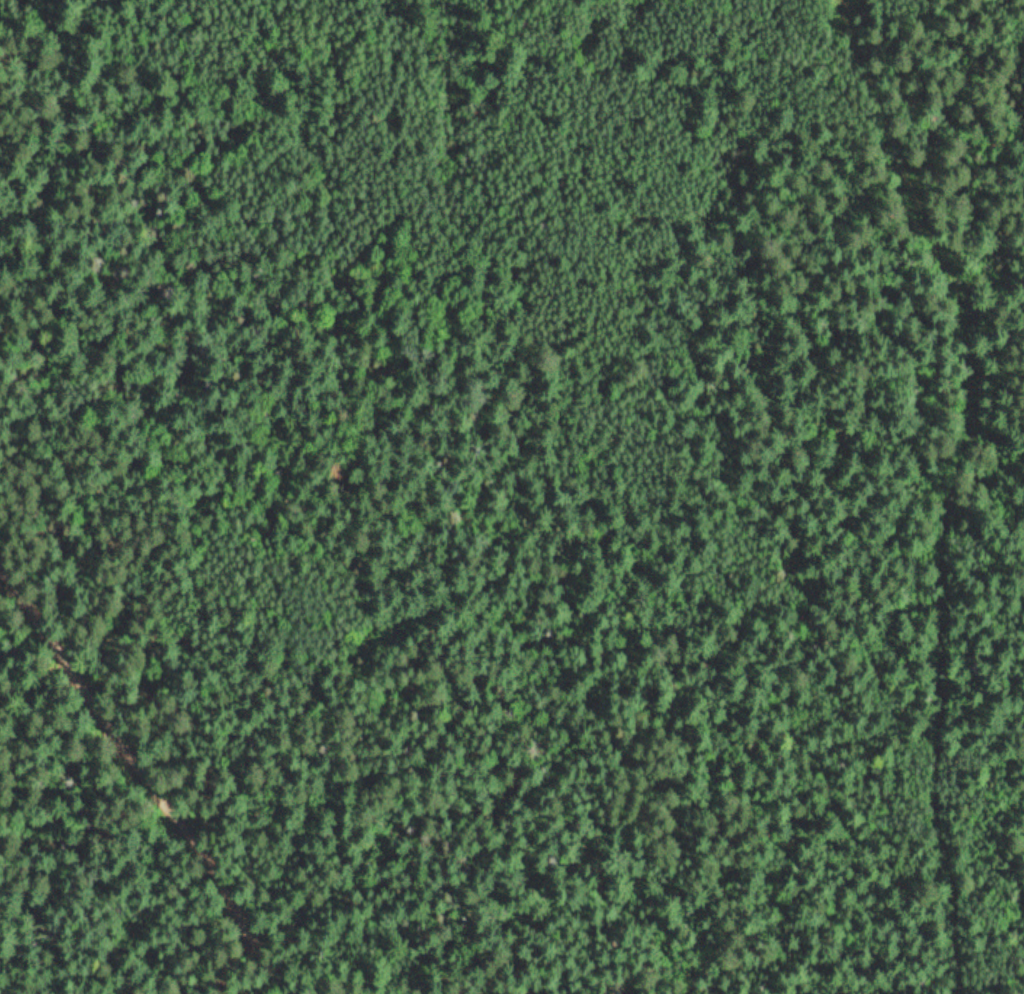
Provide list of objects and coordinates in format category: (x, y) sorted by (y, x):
road: (149, 768)

